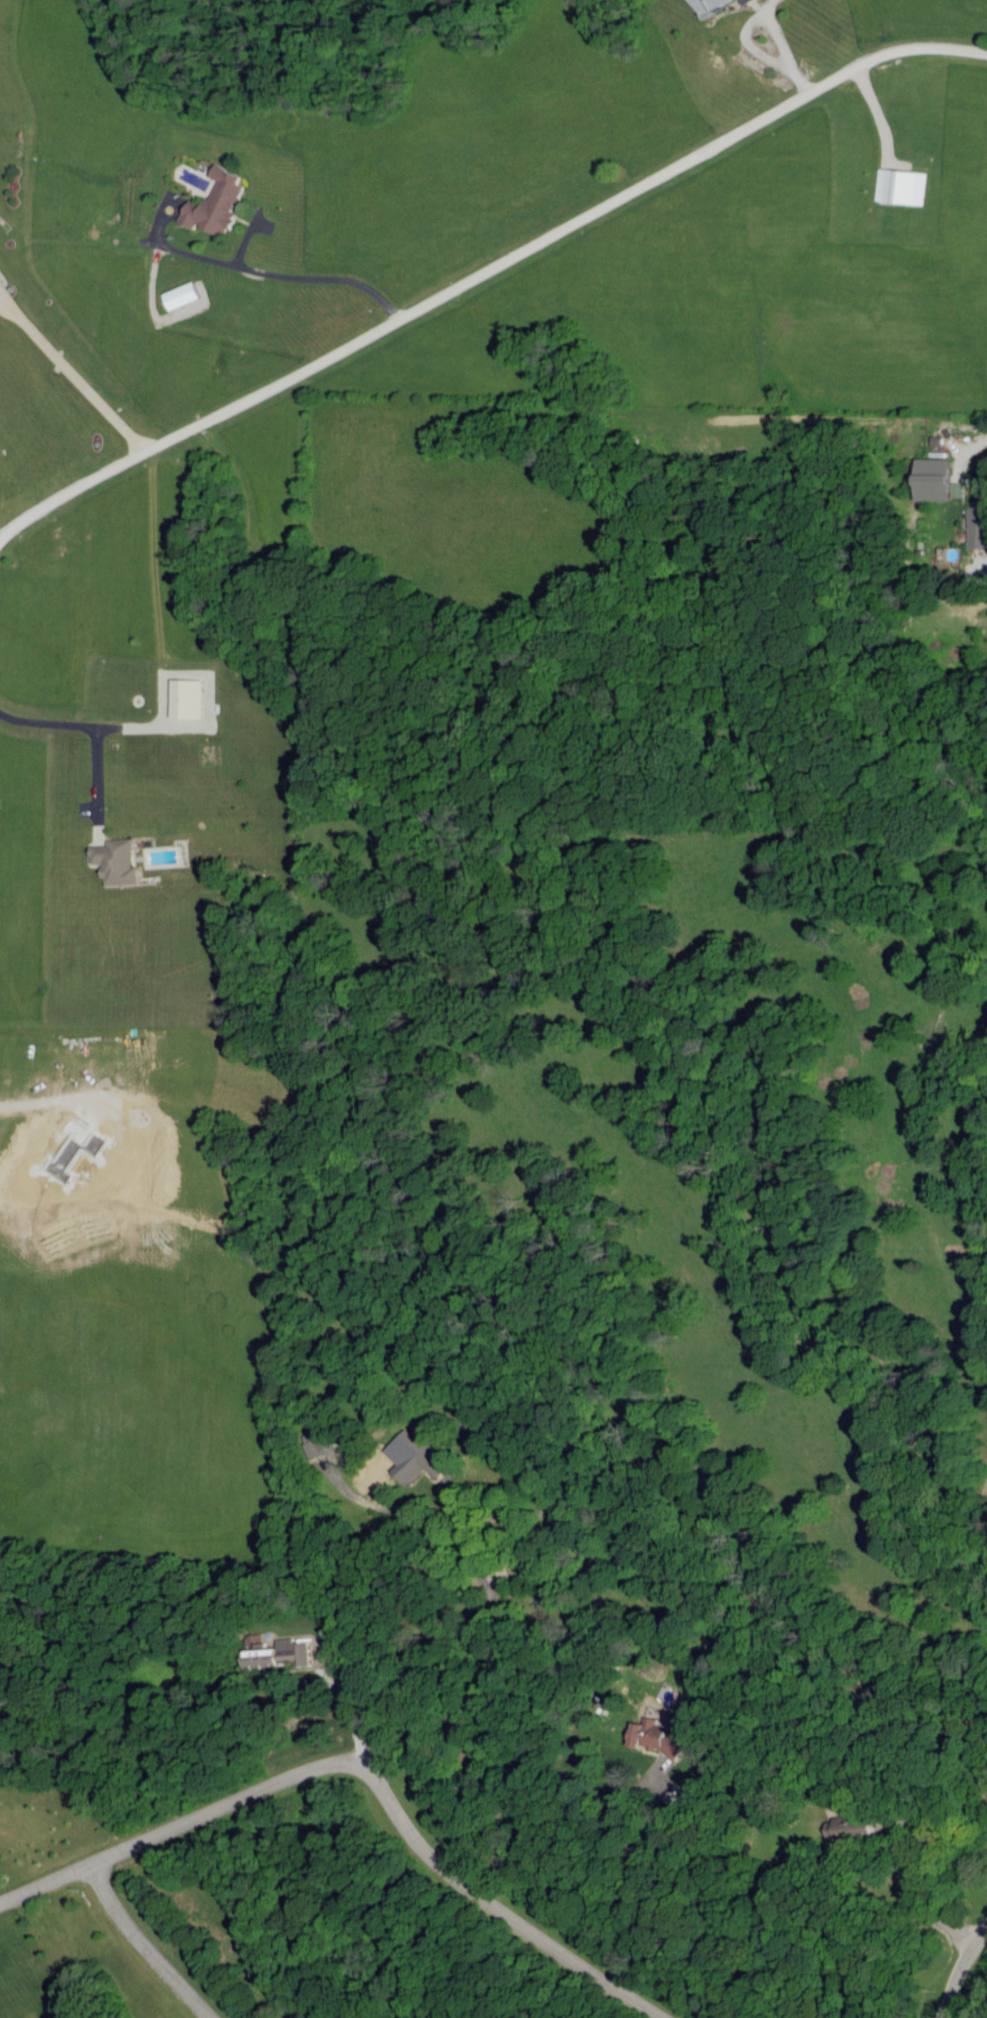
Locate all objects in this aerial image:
building: (902, 185)
building: (218, 203)
road: (485, 250)
road: (245, 268)
building: (183, 295)
road: (977, 441)
building: (935, 479)
building: (978, 527)
road: (981, 587)
building: (188, 698)
road: (69, 720)
road: (75, 775)
building: (118, 861)
building: (419, 1457)
building: (283, 1654)
road: (477, 1655)
building: (651, 1733)
road: (523, 1815)
road: (171, 1828)
building: (846, 1830)
road: (433, 1871)
road: (160, 1941)
road: (952, 1969)

